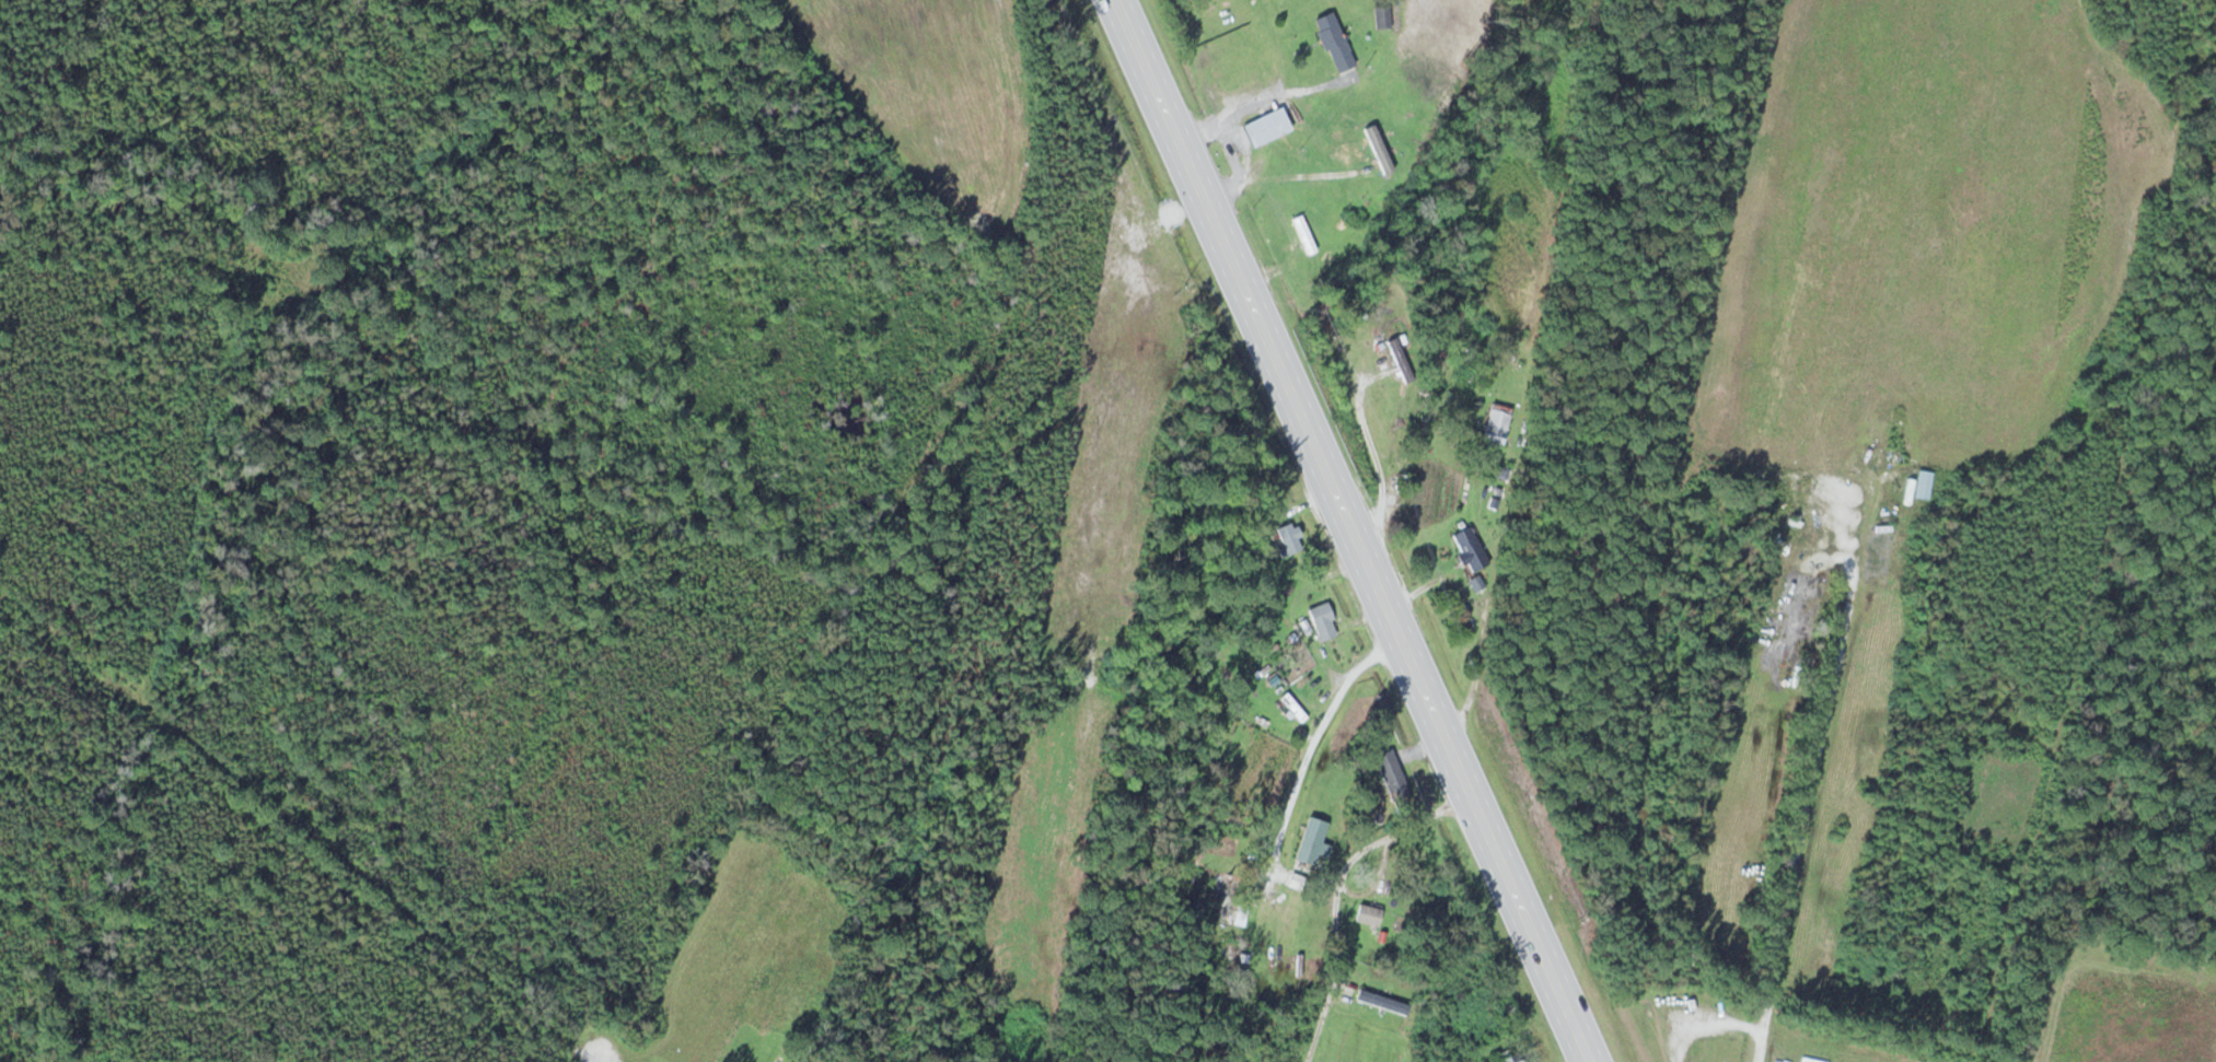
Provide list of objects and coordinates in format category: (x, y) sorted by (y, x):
building: (1381, 16)
building: (1332, 42)
building: (1264, 127)
building: (1303, 234)
building: (1400, 360)
building: (1495, 423)
building: (1922, 483)
road: (1351, 532)
building: (1285, 539)
building: (1470, 547)
building: (1321, 620)
building: (1292, 705)
road: (1315, 737)
building: (1390, 773)
building: (1714, 831)
building: (1310, 839)
road: (1338, 890)
building: (1367, 914)
building: (1499, 1000)
building: (1381, 1001)
building: (1509, 1055)

